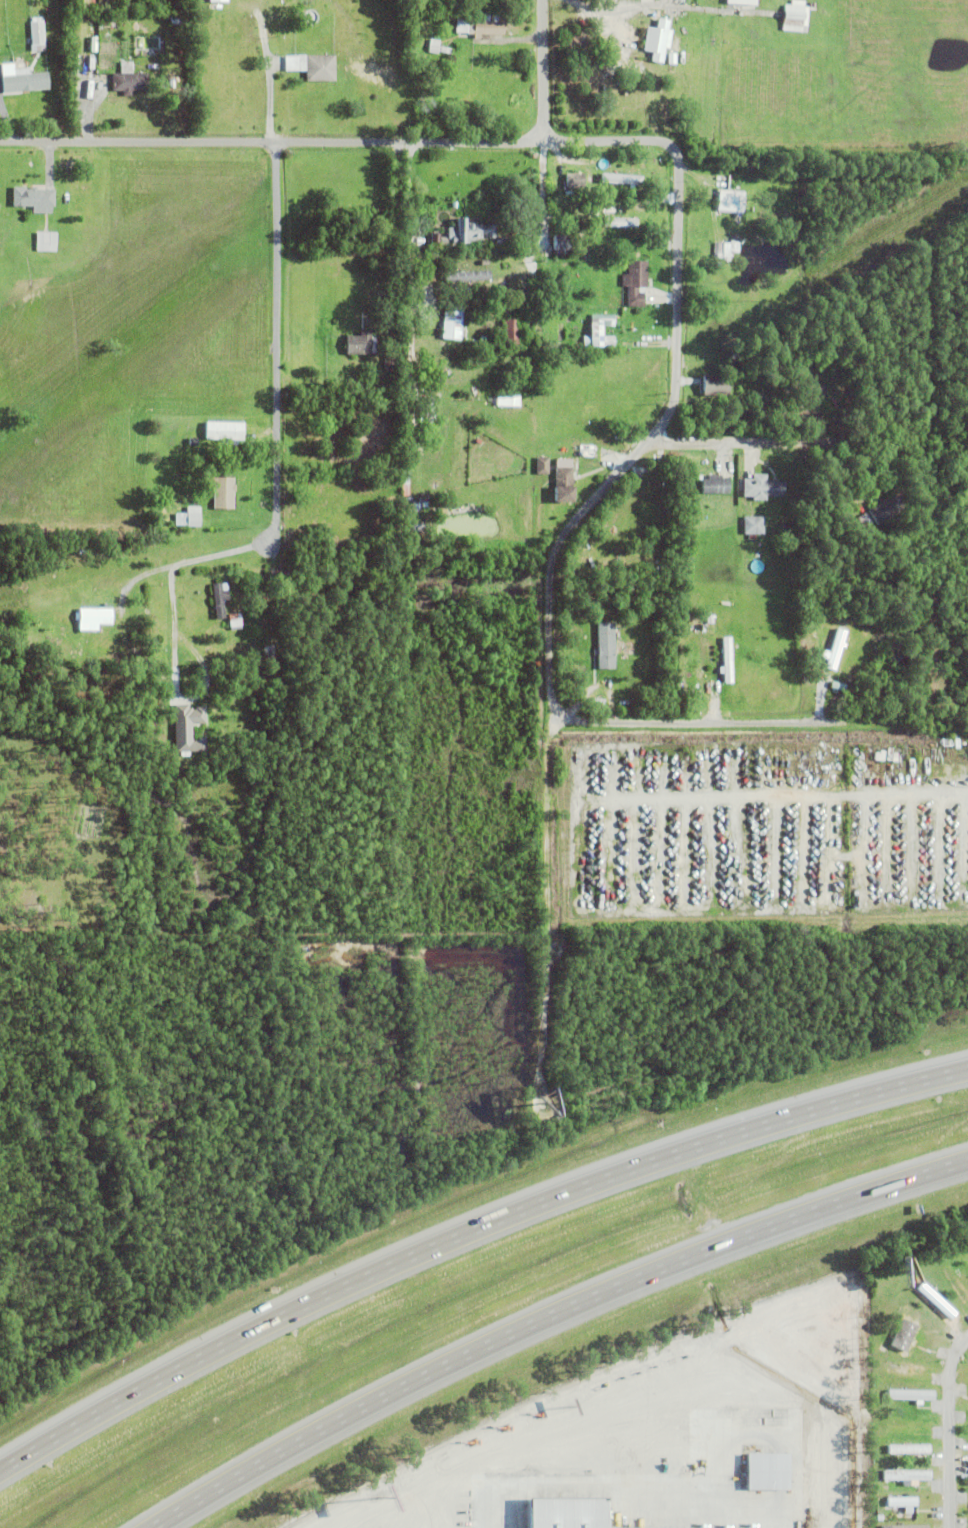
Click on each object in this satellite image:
building: (220, 0)
building: (742, 2)
road: (643, 4)
building: (652, 14)
building: (796, 17)
building: (483, 26)
building: (35, 35)
building: (658, 40)
building: (432, 46)
building: (672, 58)
building: (92, 65)
building: (312, 66)
road: (543, 70)
building: (128, 80)
building: (24, 81)
building: (98, 88)
road: (268, 99)
road: (823, 157)
building: (624, 167)
building: (623, 178)
building: (555, 180)
building: (575, 180)
road: (543, 190)
building: (34, 199)
building: (731, 201)
road: (409, 223)
building: (620, 223)
building: (469, 231)
building: (434, 238)
building: (46, 242)
building: (508, 242)
building: (561, 243)
building: (717, 250)
building: (471, 278)
building: (636, 282)
road: (677, 319)
building: (452, 321)
building: (512, 332)
building: (600, 332)
building: (361, 344)
road: (275, 349)
building: (393, 363)
building: (717, 384)
building: (816, 392)
building: (509, 400)
building: (429, 418)
building: (225, 433)
road: (807, 441)
building: (193, 442)
building: (589, 451)
building: (390, 463)
building: (543, 466)
building: (726, 469)
building: (564, 482)
building: (716, 485)
building: (762, 488)
building: (222, 492)
building: (889, 508)
building: (416, 509)
building: (191, 518)
building: (754, 526)
building: (418, 528)
building: (592, 556)
road: (136, 583)
building: (219, 600)
building: (235, 623)
building: (62, 625)
building: (703, 625)
road: (178, 630)
building: (98, 631)
building: (224, 636)
building: (117, 642)
building: (839, 644)
building: (625, 645)
building: (606, 647)
building: (269, 653)
building: (68, 661)
building: (727, 662)
building: (839, 688)
building: (189, 728)
road: (549, 816)
road: (468, 1227)
road: (550, 1319)
building: (903, 1332)
building: (882, 1346)
building: (914, 1395)
building: (909, 1420)
road: (960, 1444)
building: (908, 1447)
building: (967, 1452)
road: (794, 1460)
building: (771, 1470)
building: (906, 1473)
building: (967, 1478)
road: (590, 1482)
building: (901, 1500)
building: (967, 1506)
building: (577, 1512)
building: (904, 1525)

